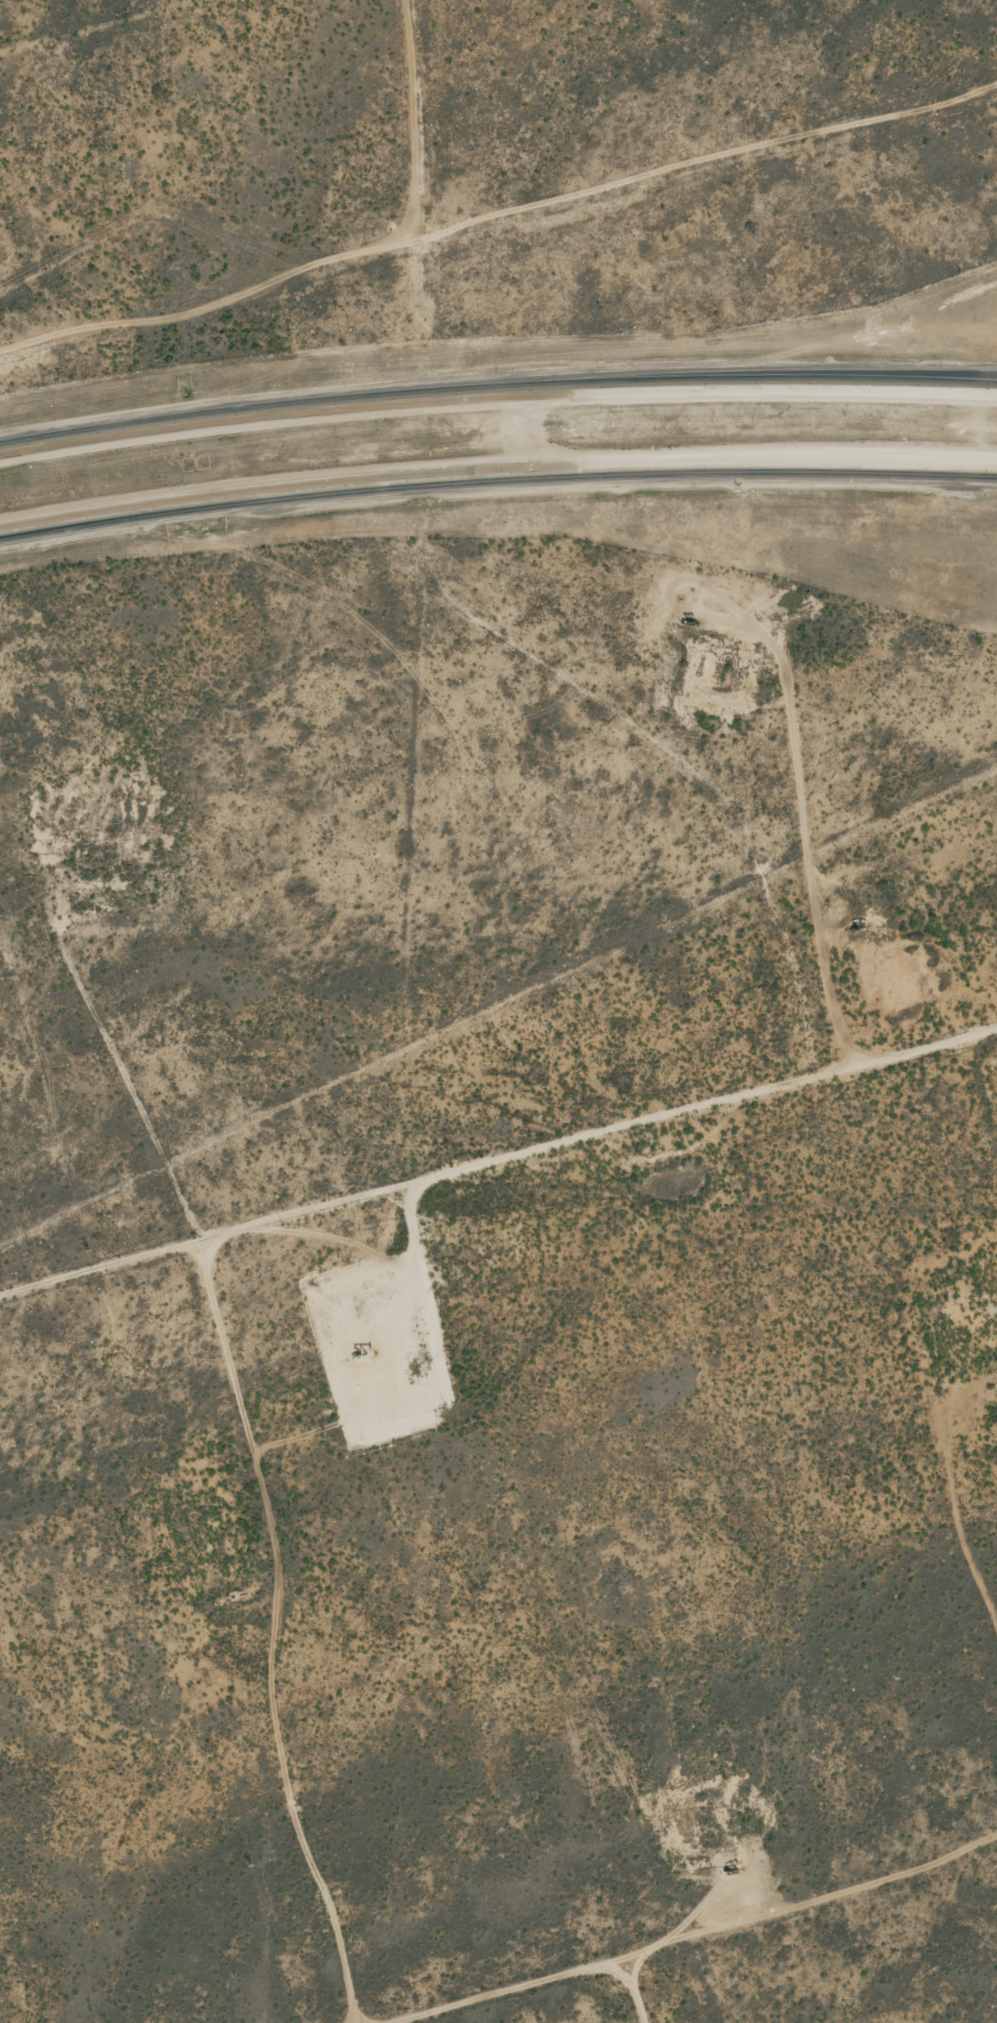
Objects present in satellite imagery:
road: (163, 44)
road: (973, 383)
road: (496, 396)
road: (496, 474)
road: (498, 1219)

